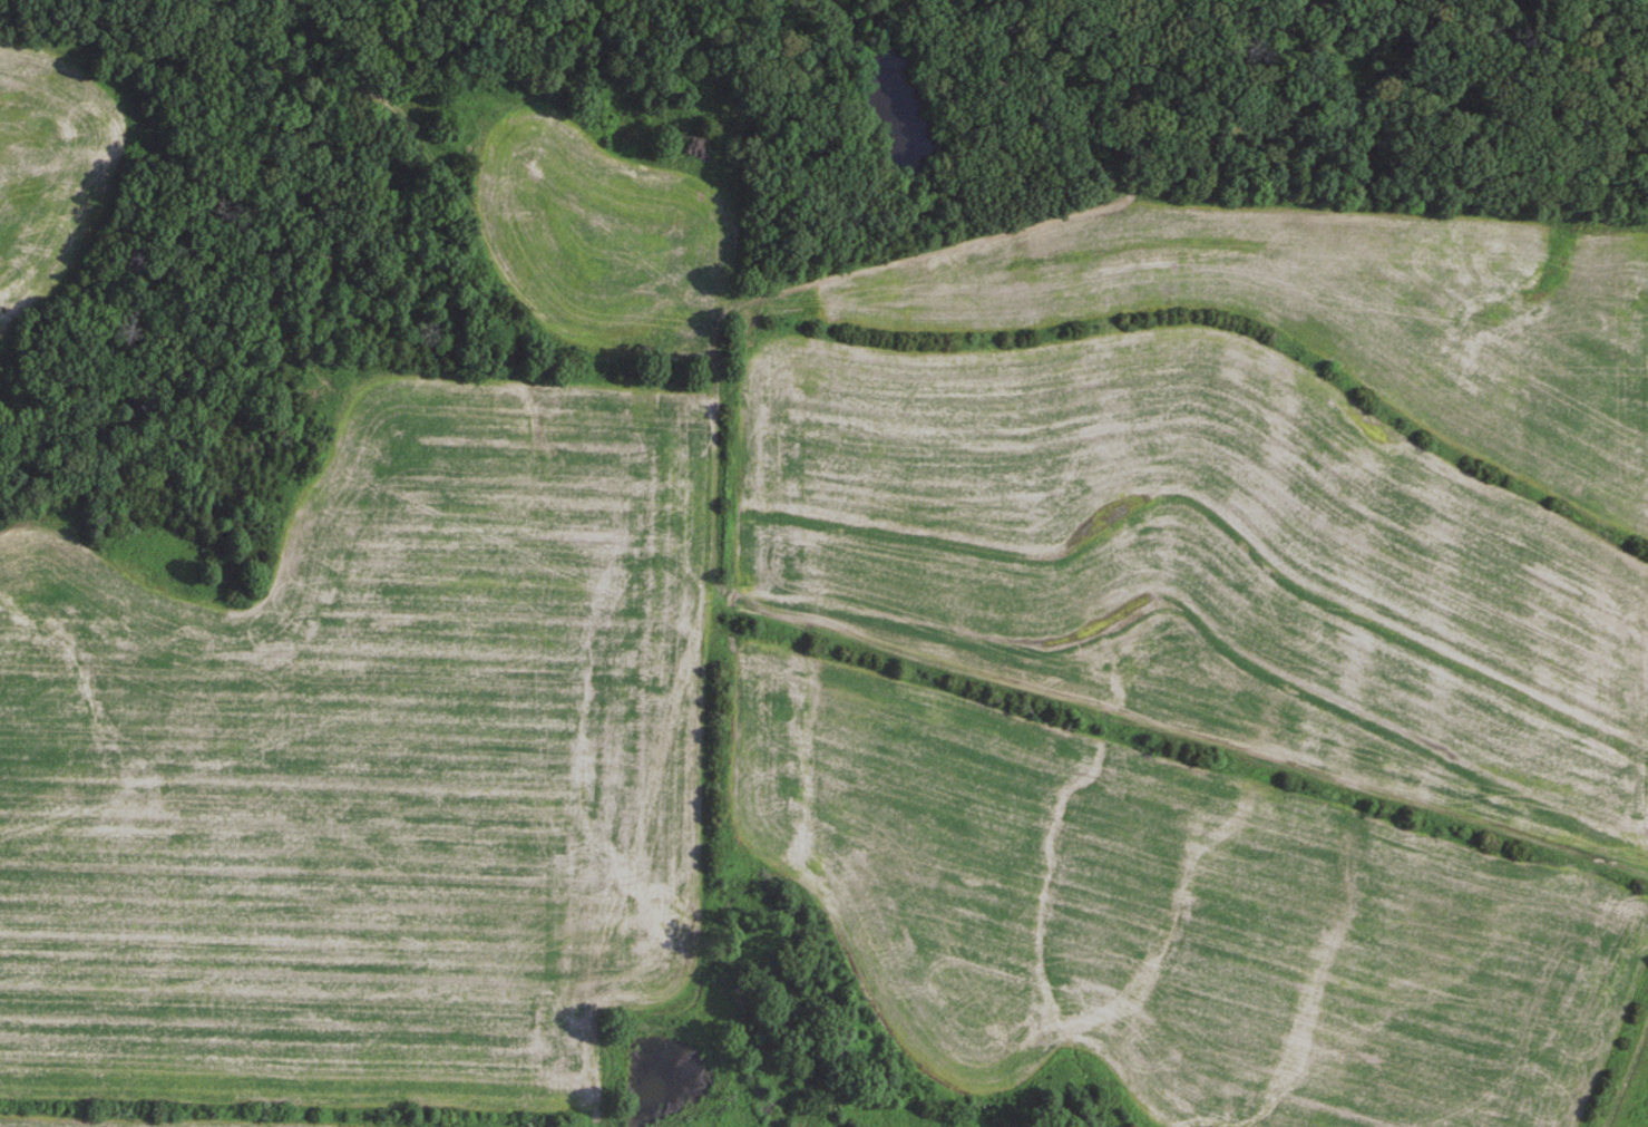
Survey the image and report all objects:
road: (1626, 1075)

